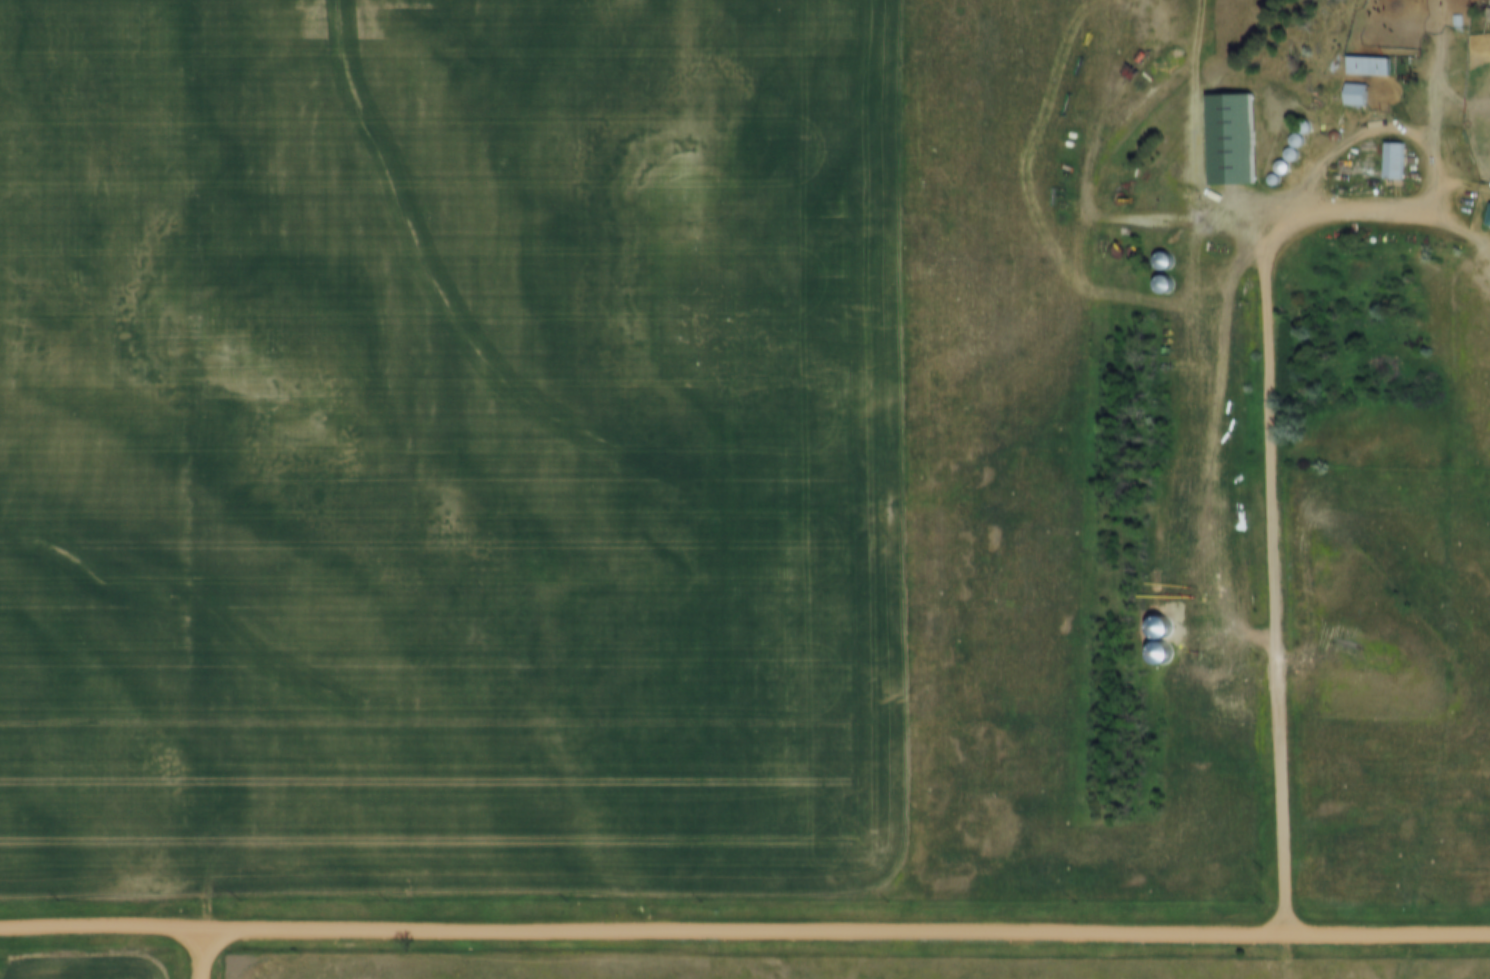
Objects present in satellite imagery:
building: (1488, 17)
building: (1367, 67)
building: (1355, 95)
building: (1230, 139)
building: (1393, 162)
building: (1488, 218)
building: (1164, 260)
building: (1164, 284)
road: (1270, 368)
road: (101, 926)
road: (846, 932)
road: (201, 955)

